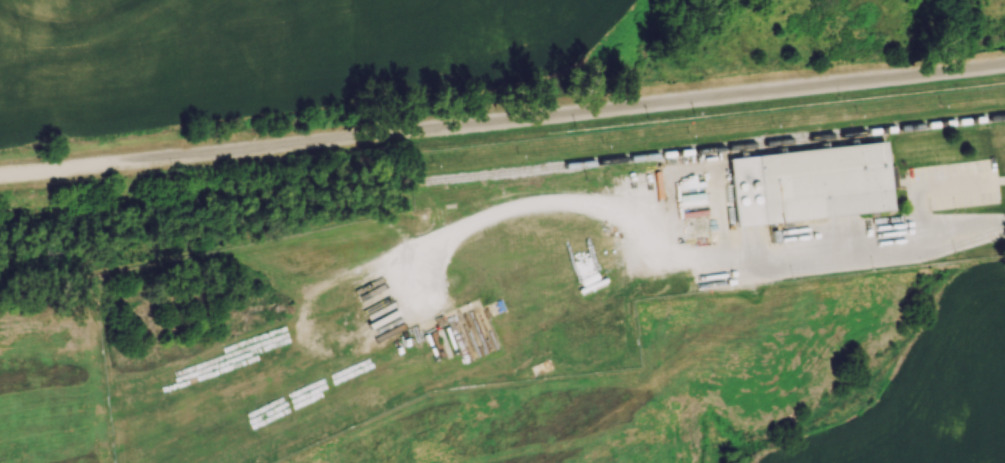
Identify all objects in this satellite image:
crop: (259, 54)
road: (502, 123)
railway: (715, 150)
road: (719, 169)
building: (807, 183)
road: (654, 185)
road: (944, 185)
road: (596, 186)
road: (588, 202)
road: (611, 206)
road: (551, 212)
road: (633, 216)
road: (717, 216)
road: (919, 216)
road: (477, 221)
road: (602, 221)
road: (615, 232)
road: (854, 235)
road: (964, 235)
road: (833, 238)
road: (680, 245)
road: (756, 245)
road: (743, 247)
road: (890, 254)
building: (531, 256)
road: (846, 259)
road: (797, 264)
road: (734, 265)
road: (752, 267)

